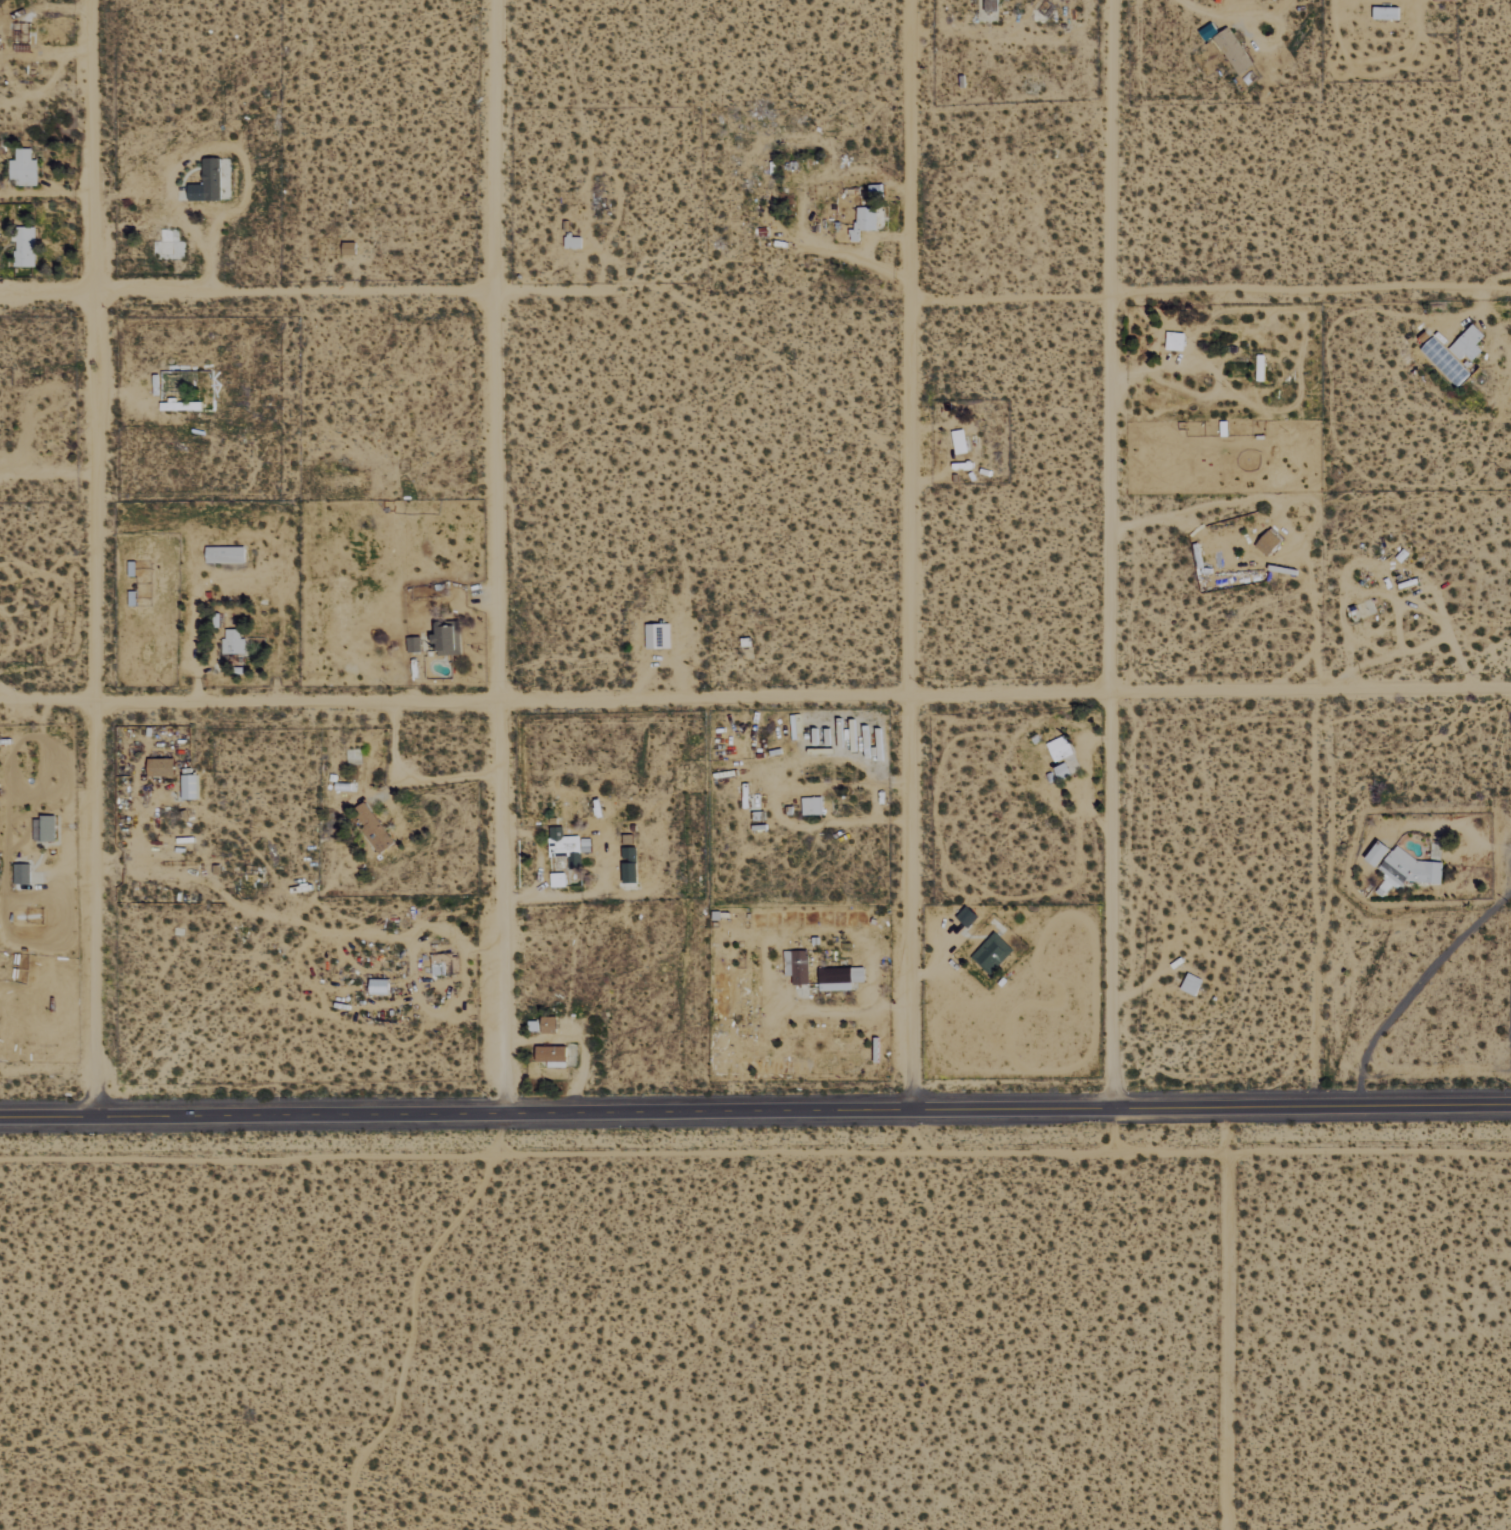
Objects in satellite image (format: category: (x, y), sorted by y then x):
building: (992, 6)
building: (1234, 51)
building: (23, 168)
building: (212, 182)
building: (864, 222)
building: (24, 247)
road: (1209, 289)
road: (243, 292)
road: (548, 292)
building: (1175, 341)
building: (1467, 344)
building: (1445, 362)
building: (179, 406)
building: (960, 442)
road: (493, 553)
road: (906, 553)
road: (1108, 553)
building: (226, 555)
road: (96, 558)
building: (448, 638)
building: (233, 643)
building: (414, 645)
road: (1003, 695)
road: (248, 703)
building: (1060, 748)
building: (161, 767)
building: (190, 788)
building: (812, 806)
building: (373, 829)
building: (1379, 854)
building: (563, 856)
building: (630, 865)
building: (1411, 871)
building: (22, 874)
building: (992, 954)
building: (797, 966)
building: (840, 978)
building: (1192, 985)
building: (380, 987)
building: (549, 1025)
building: (552, 1057)
road: (755, 1107)

